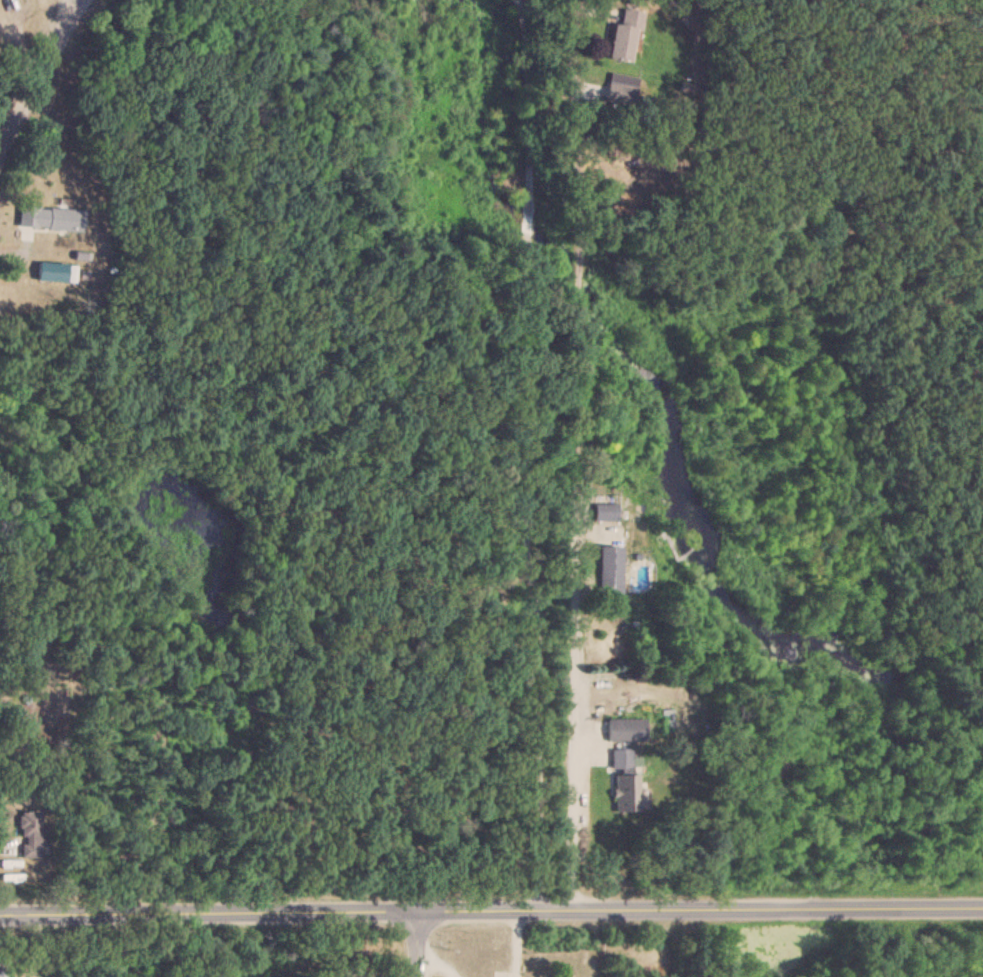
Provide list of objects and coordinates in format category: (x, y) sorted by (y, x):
building: (625, 35)
road: (30, 59)
building: (621, 84)
building: (64, 219)
road: (540, 453)
road: (567, 453)
building: (606, 511)
building: (609, 567)
building: (624, 729)
building: (622, 759)
building: (625, 792)
building: (29, 834)
road: (491, 908)
road: (516, 942)
road: (416, 943)
road: (438, 961)
road: (354, 970)
building: (2, 973)

